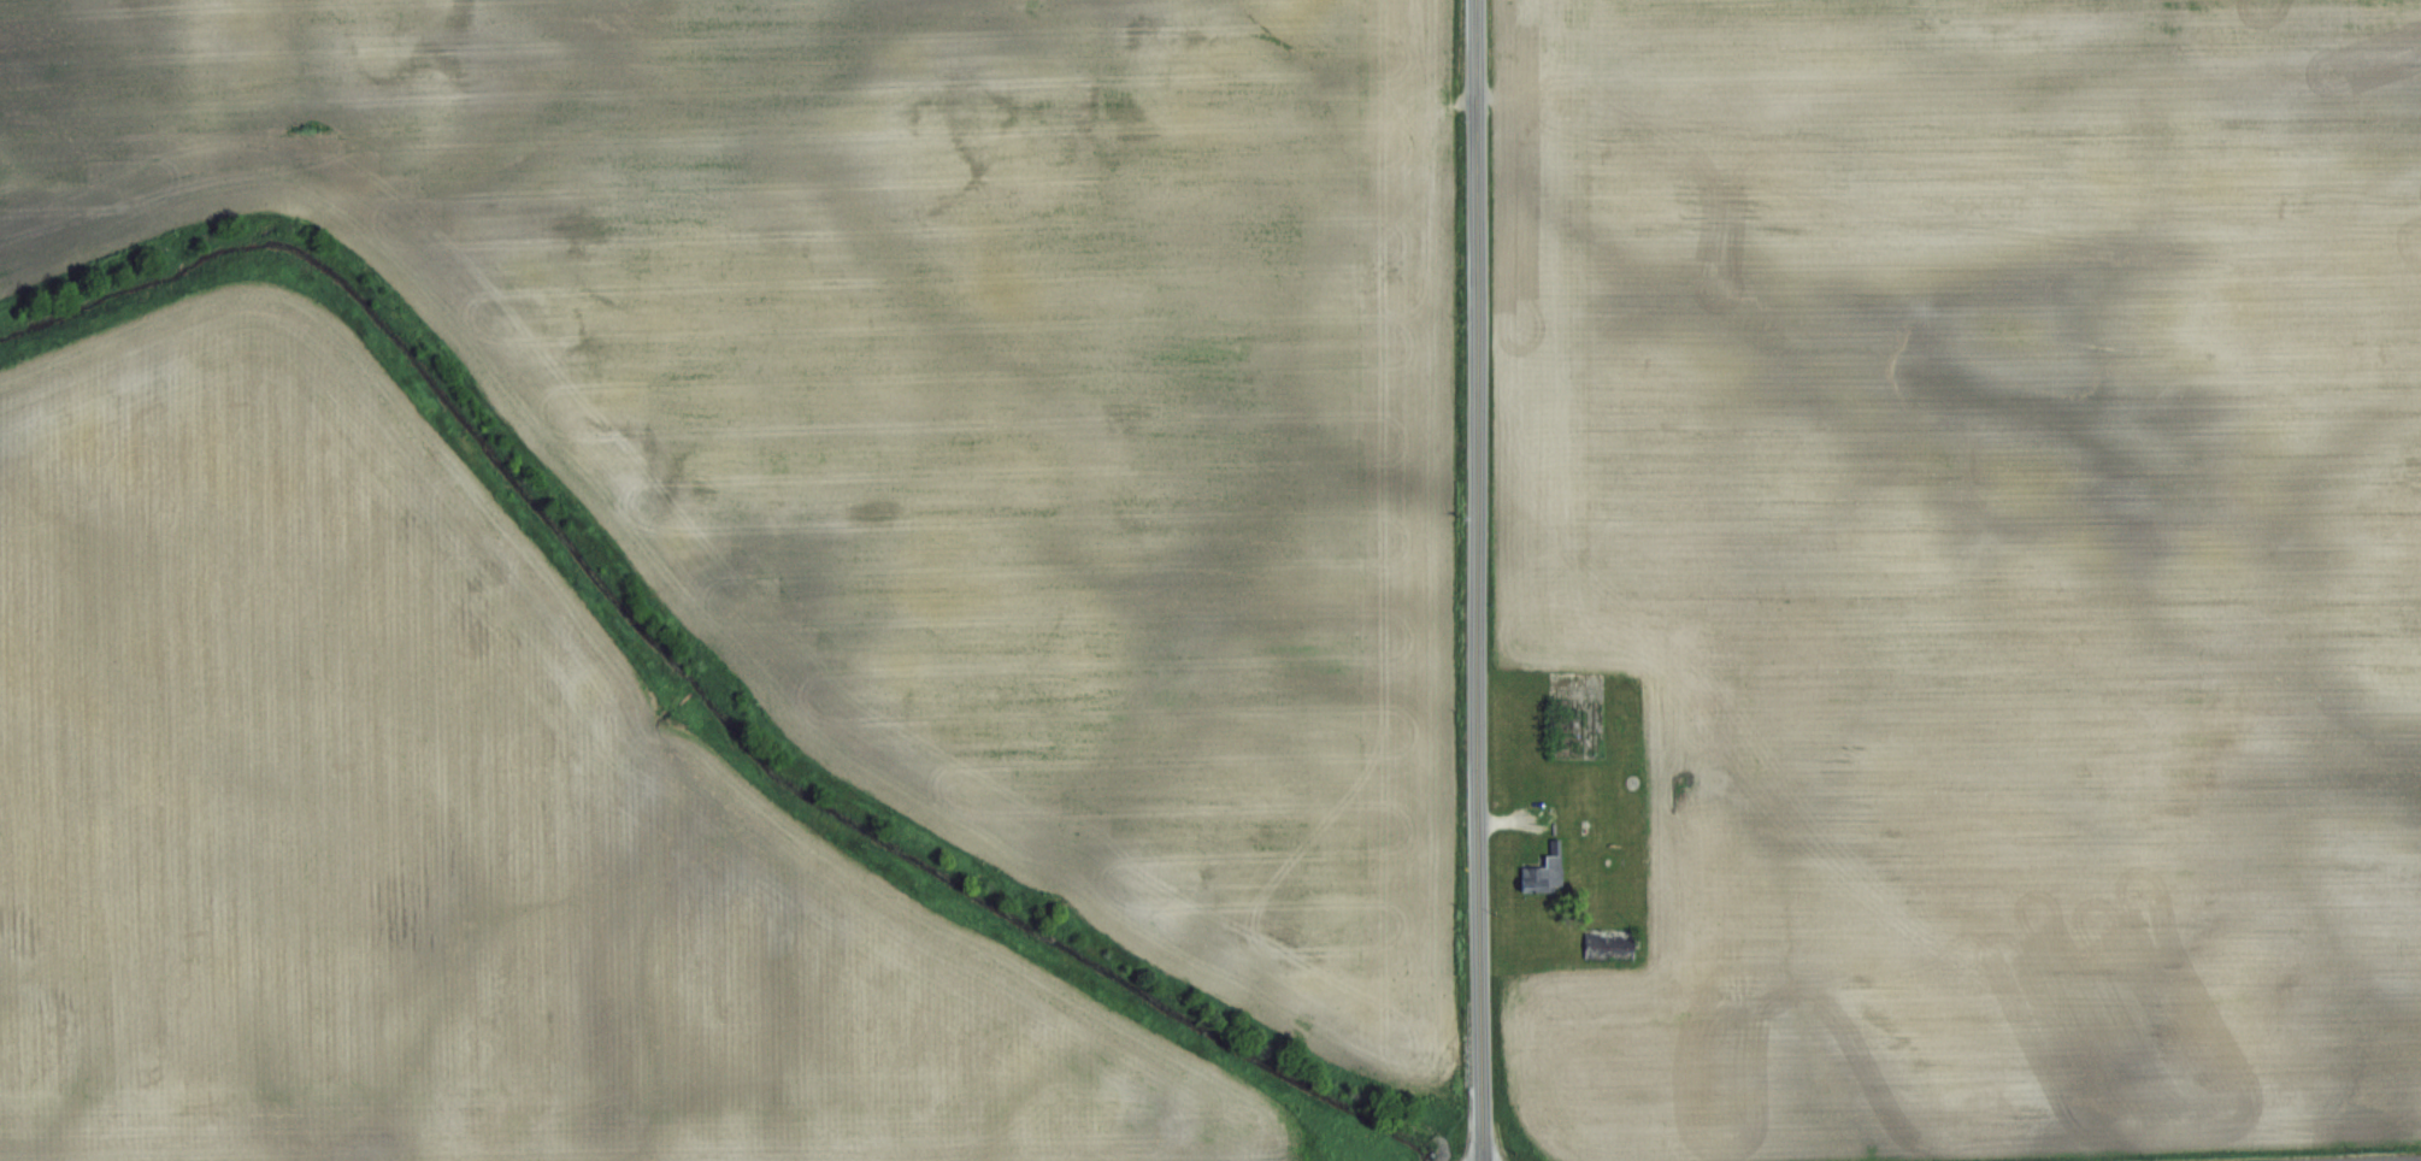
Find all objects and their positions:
road: (1478, 580)
building: (1548, 877)

